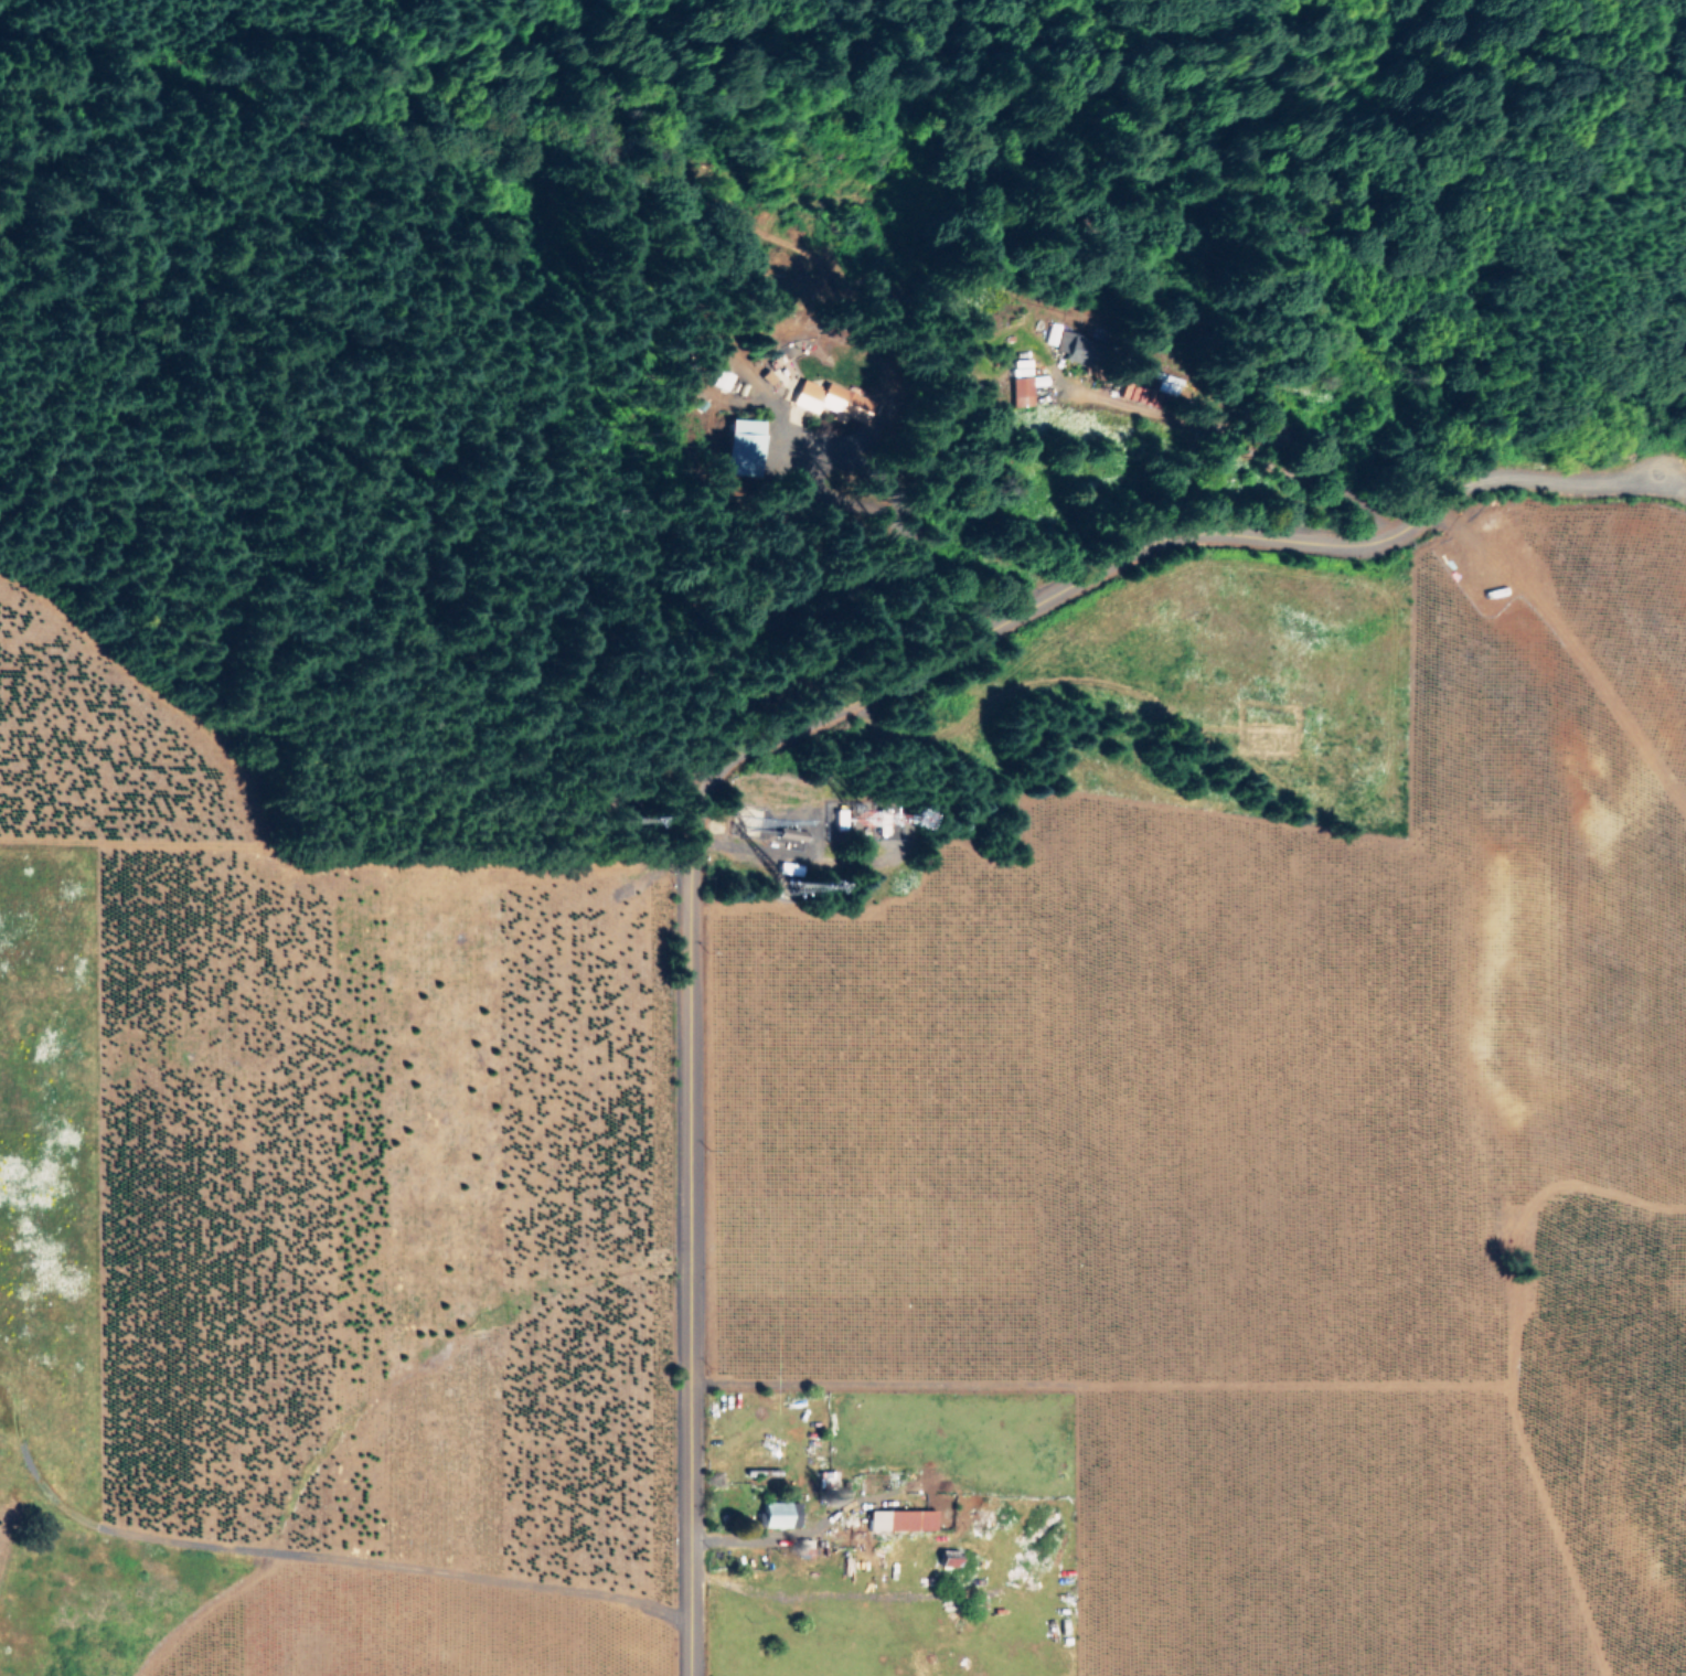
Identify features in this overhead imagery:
road: (21, 9)
road: (416, 13)
building: (832, 402)
road: (780, 738)
road: (140, 847)
road: (286, 861)
building: (776, 1512)
building: (897, 1517)
road: (335, 1562)

